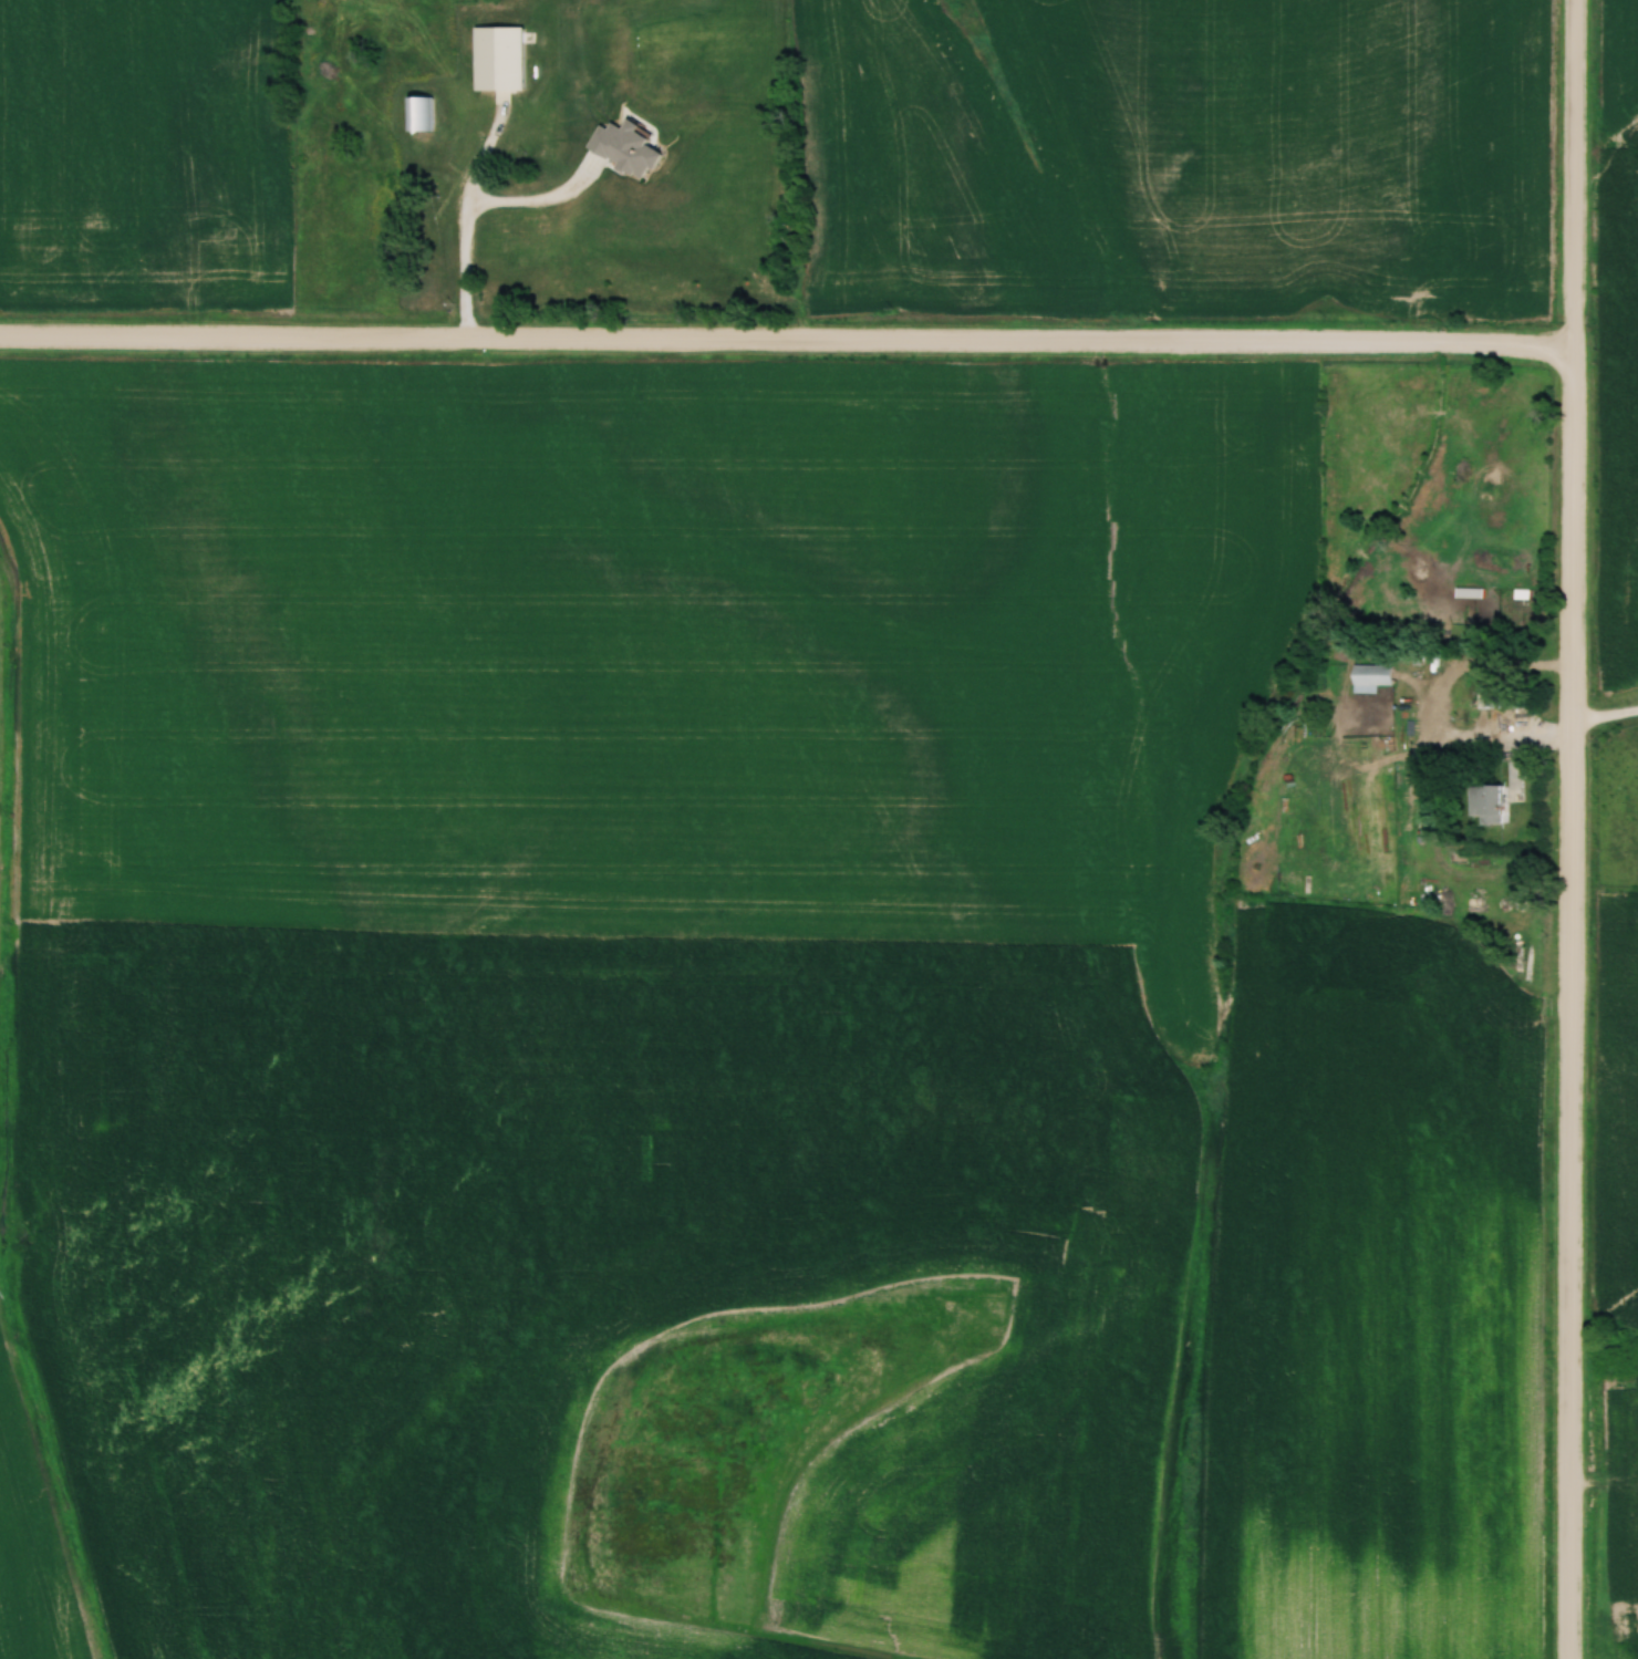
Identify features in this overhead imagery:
building: (496, 60)
building: (417, 116)
road: (456, 220)
building: (506, 221)
road: (786, 340)
building: (1444, 553)
building: (1368, 677)
building: (1501, 697)
road: (1605, 716)
building: (1483, 802)
road: (1572, 829)

